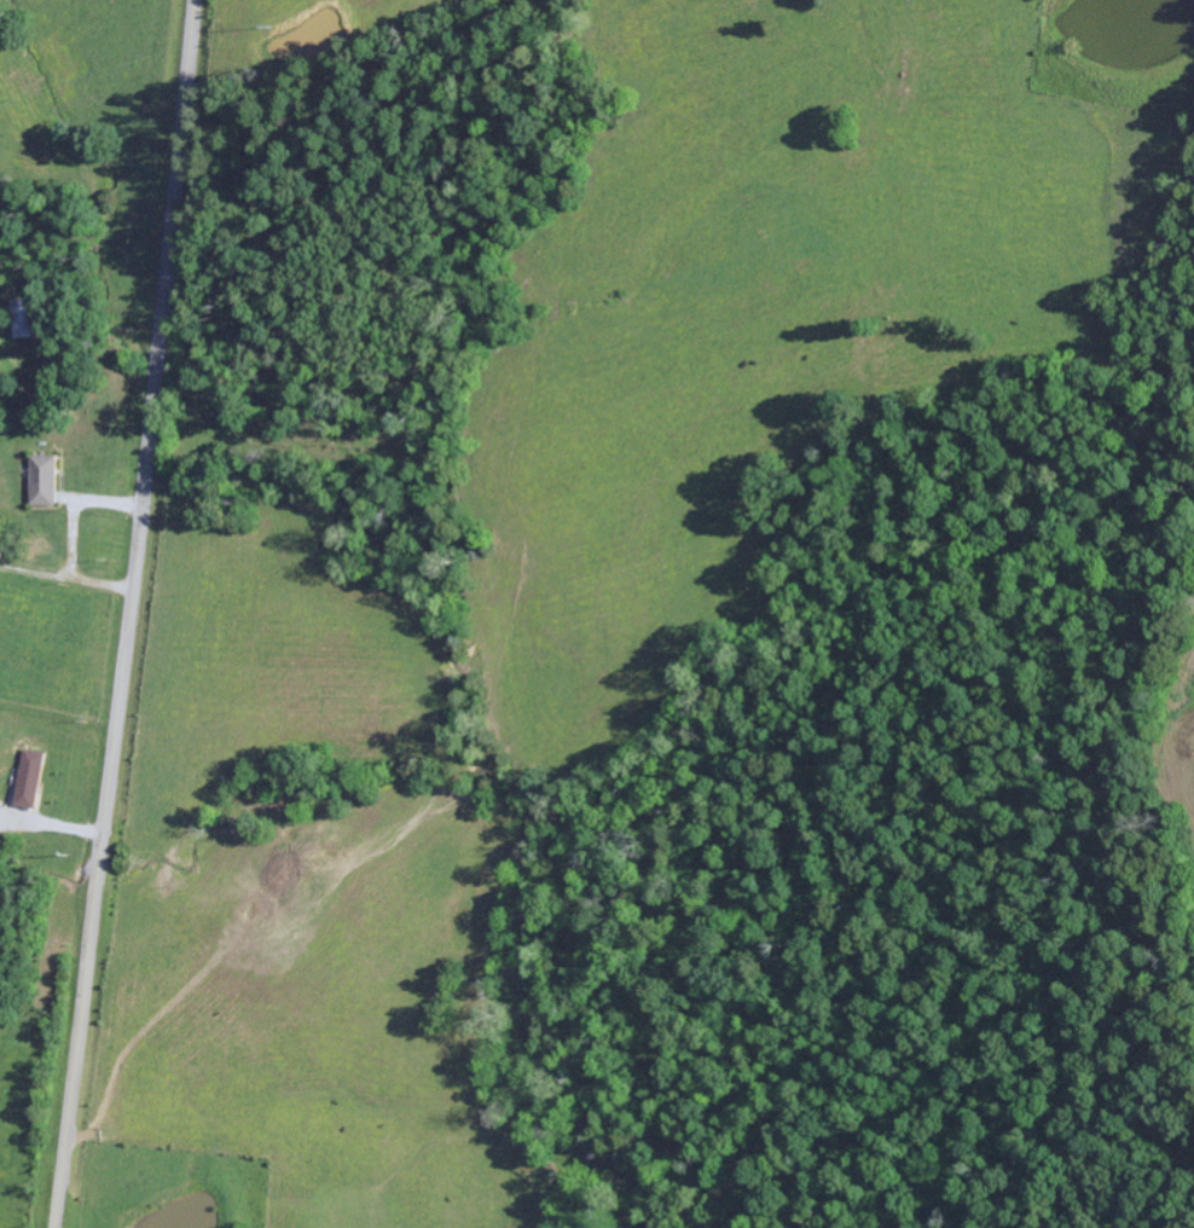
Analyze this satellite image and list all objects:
building: (28, 318)
building: (47, 480)
road: (128, 614)
building: (33, 778)

